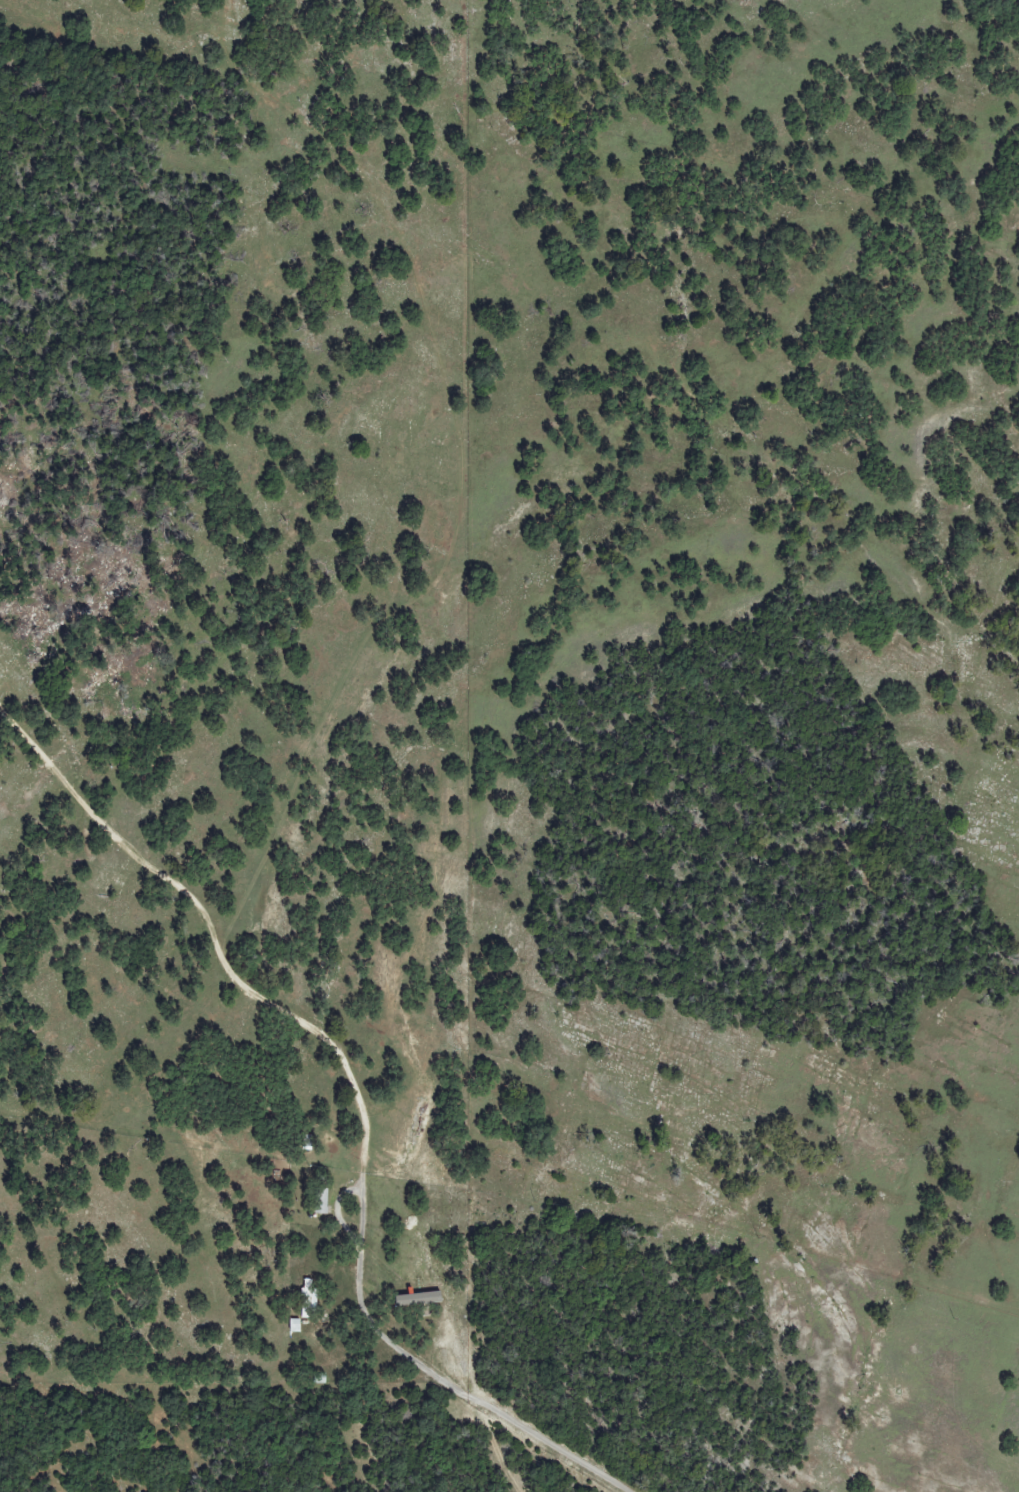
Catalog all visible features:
building: (320, 1201)
building: (418, 1299)
road: (442, 1372)

